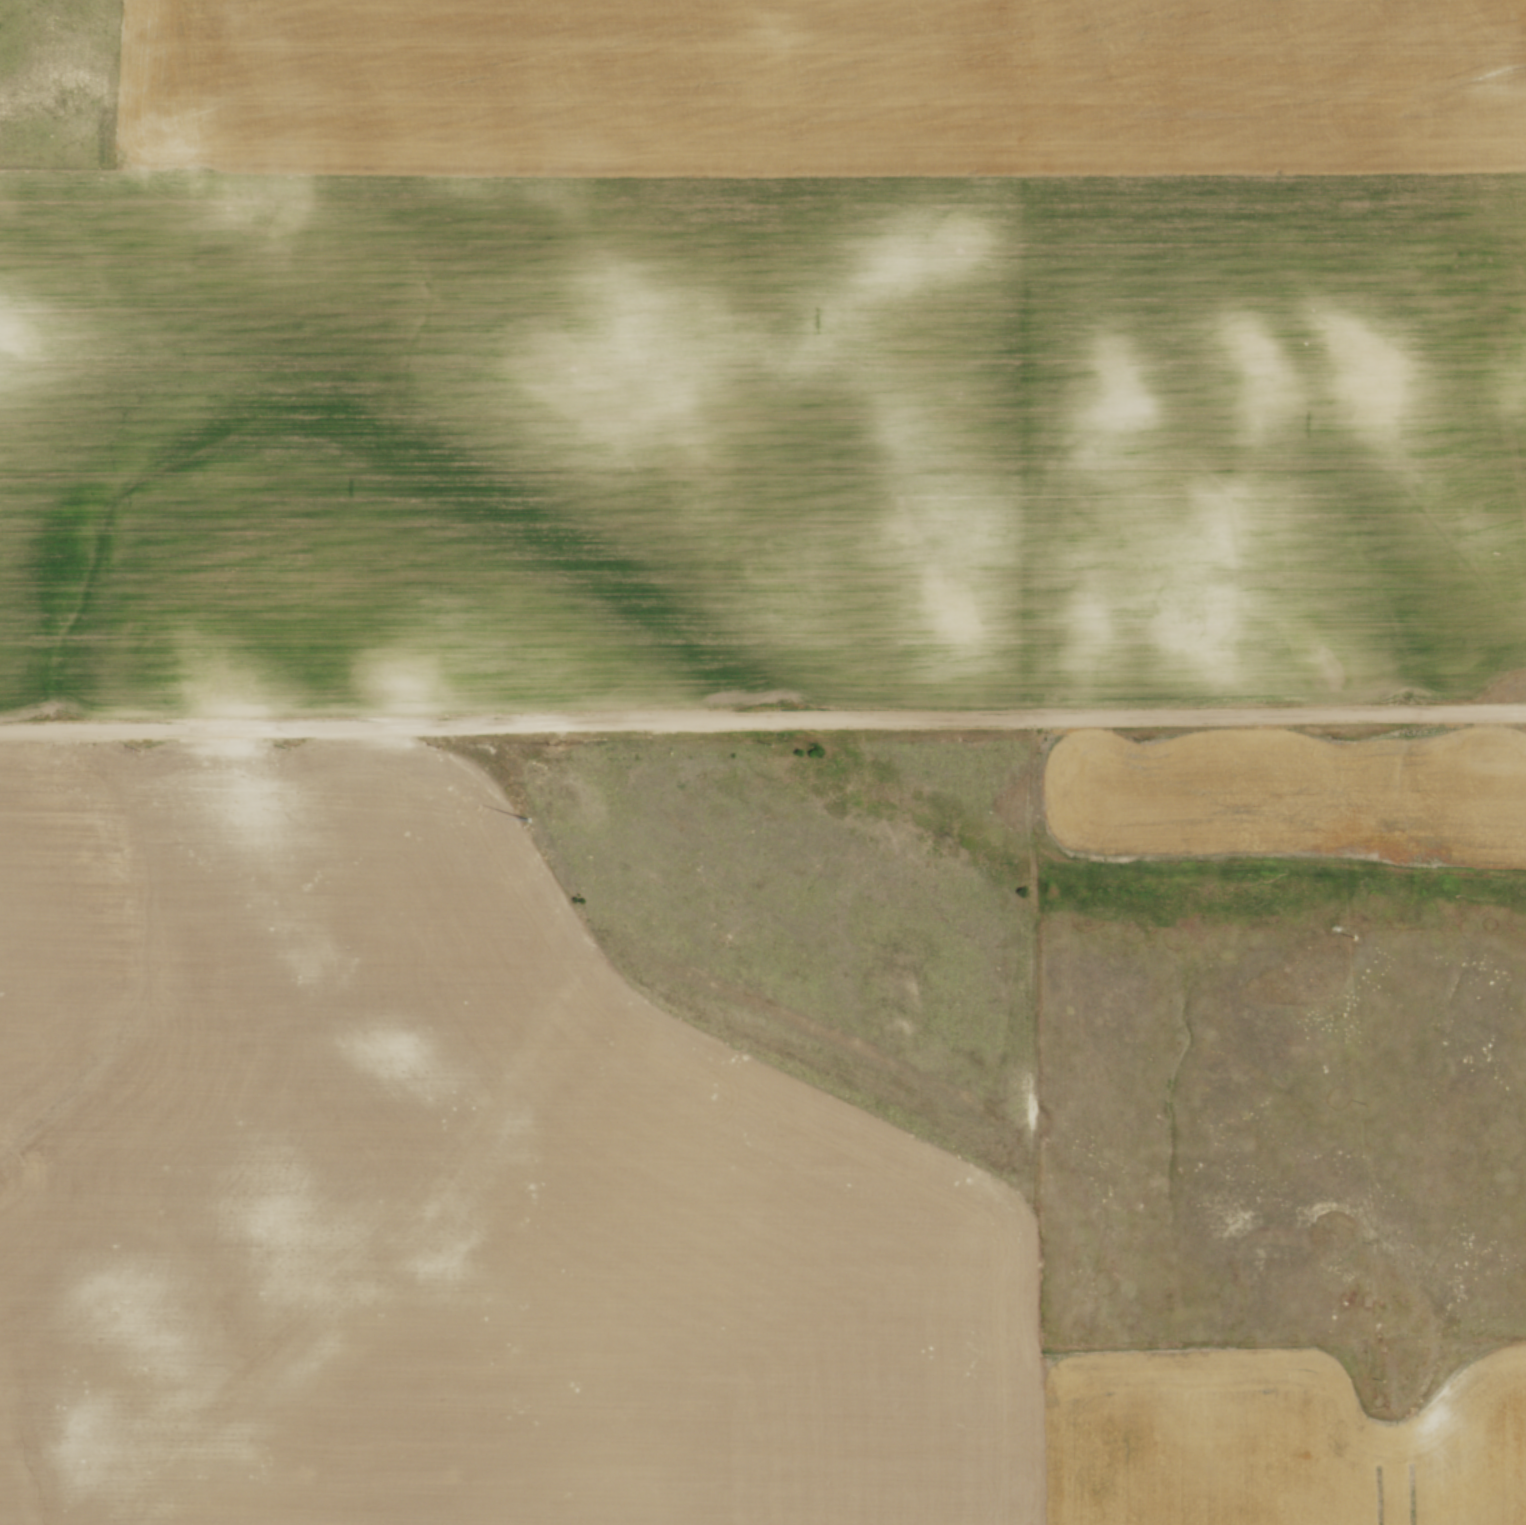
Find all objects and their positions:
crop: (773, 358)
road: (763, 719)
crop: (1289, 793)
crop: (532, 1217)

